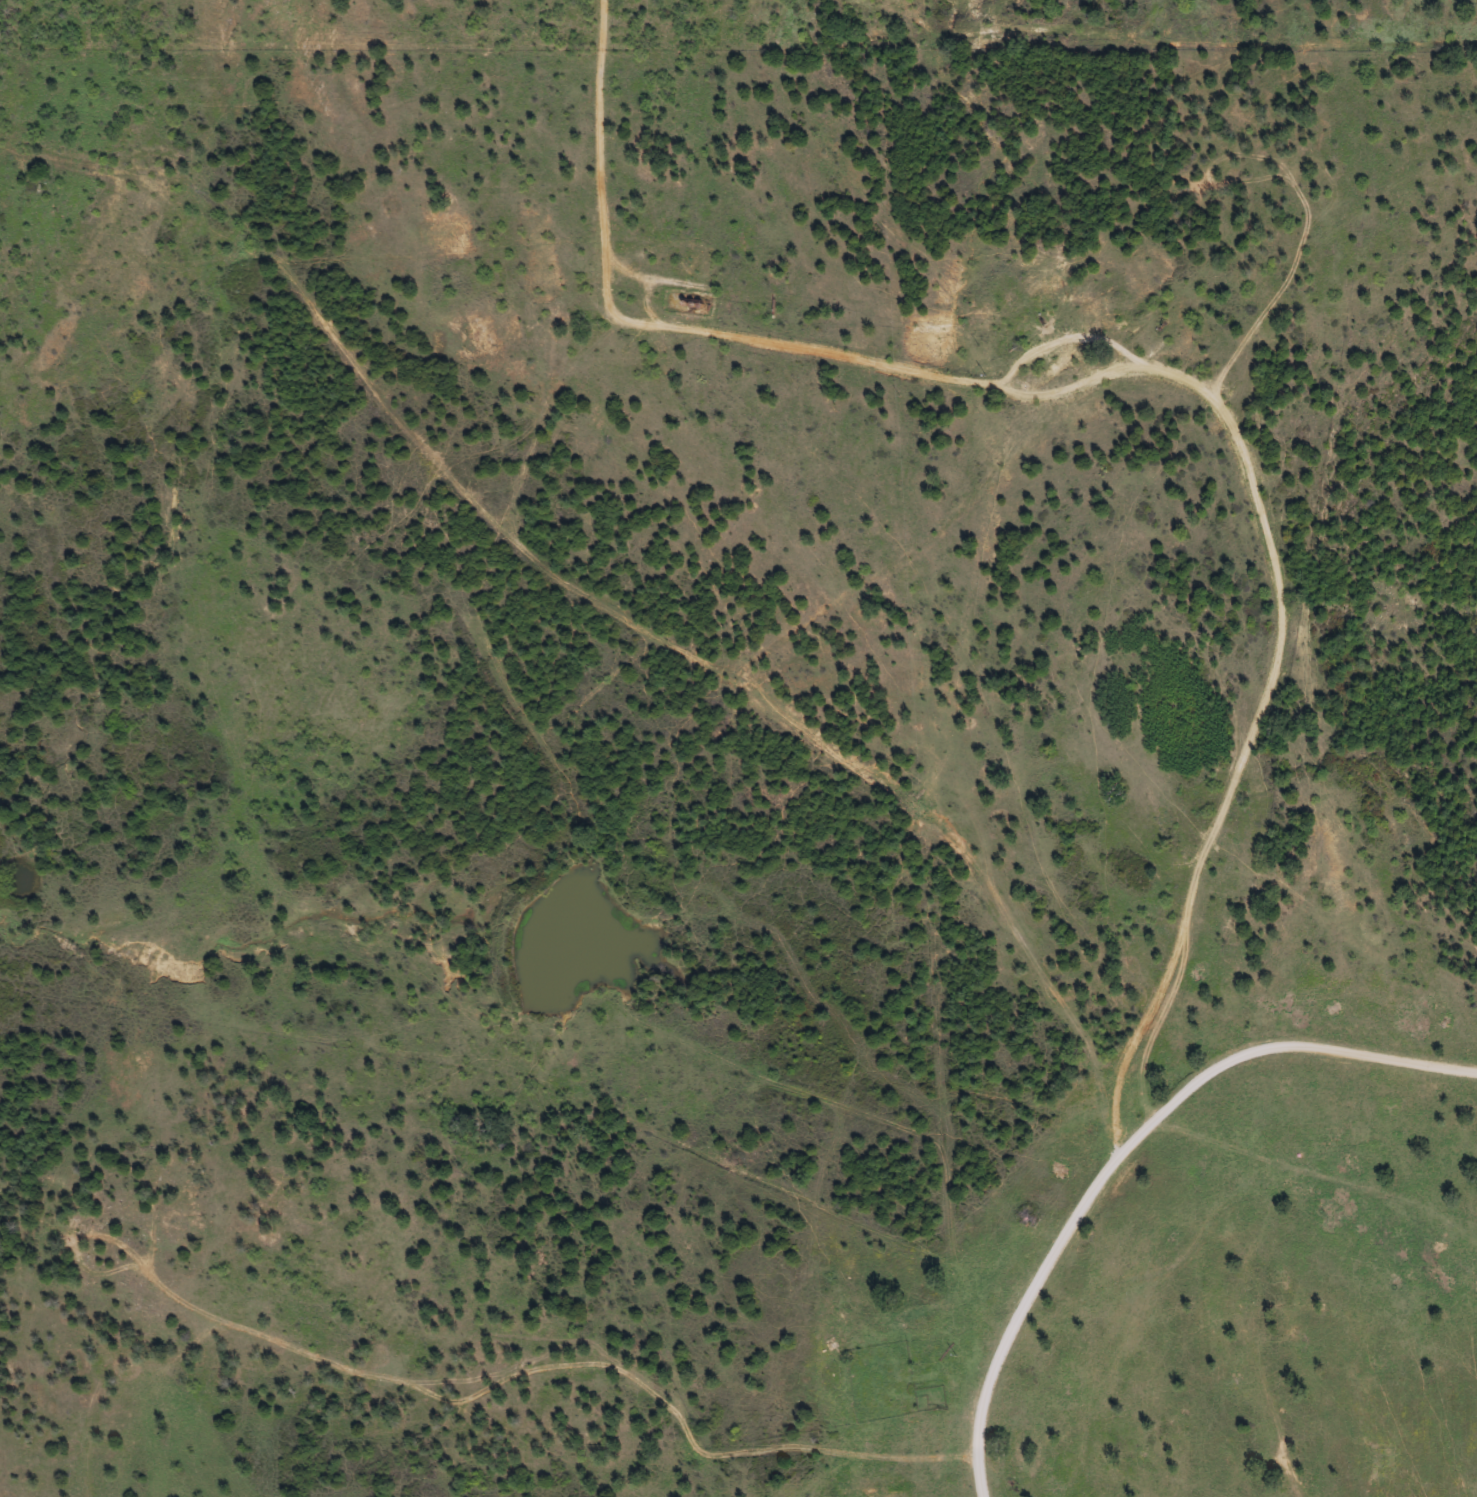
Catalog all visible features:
road: (1014, 266)
road: (954, 646)
road: (1002, 1370)

